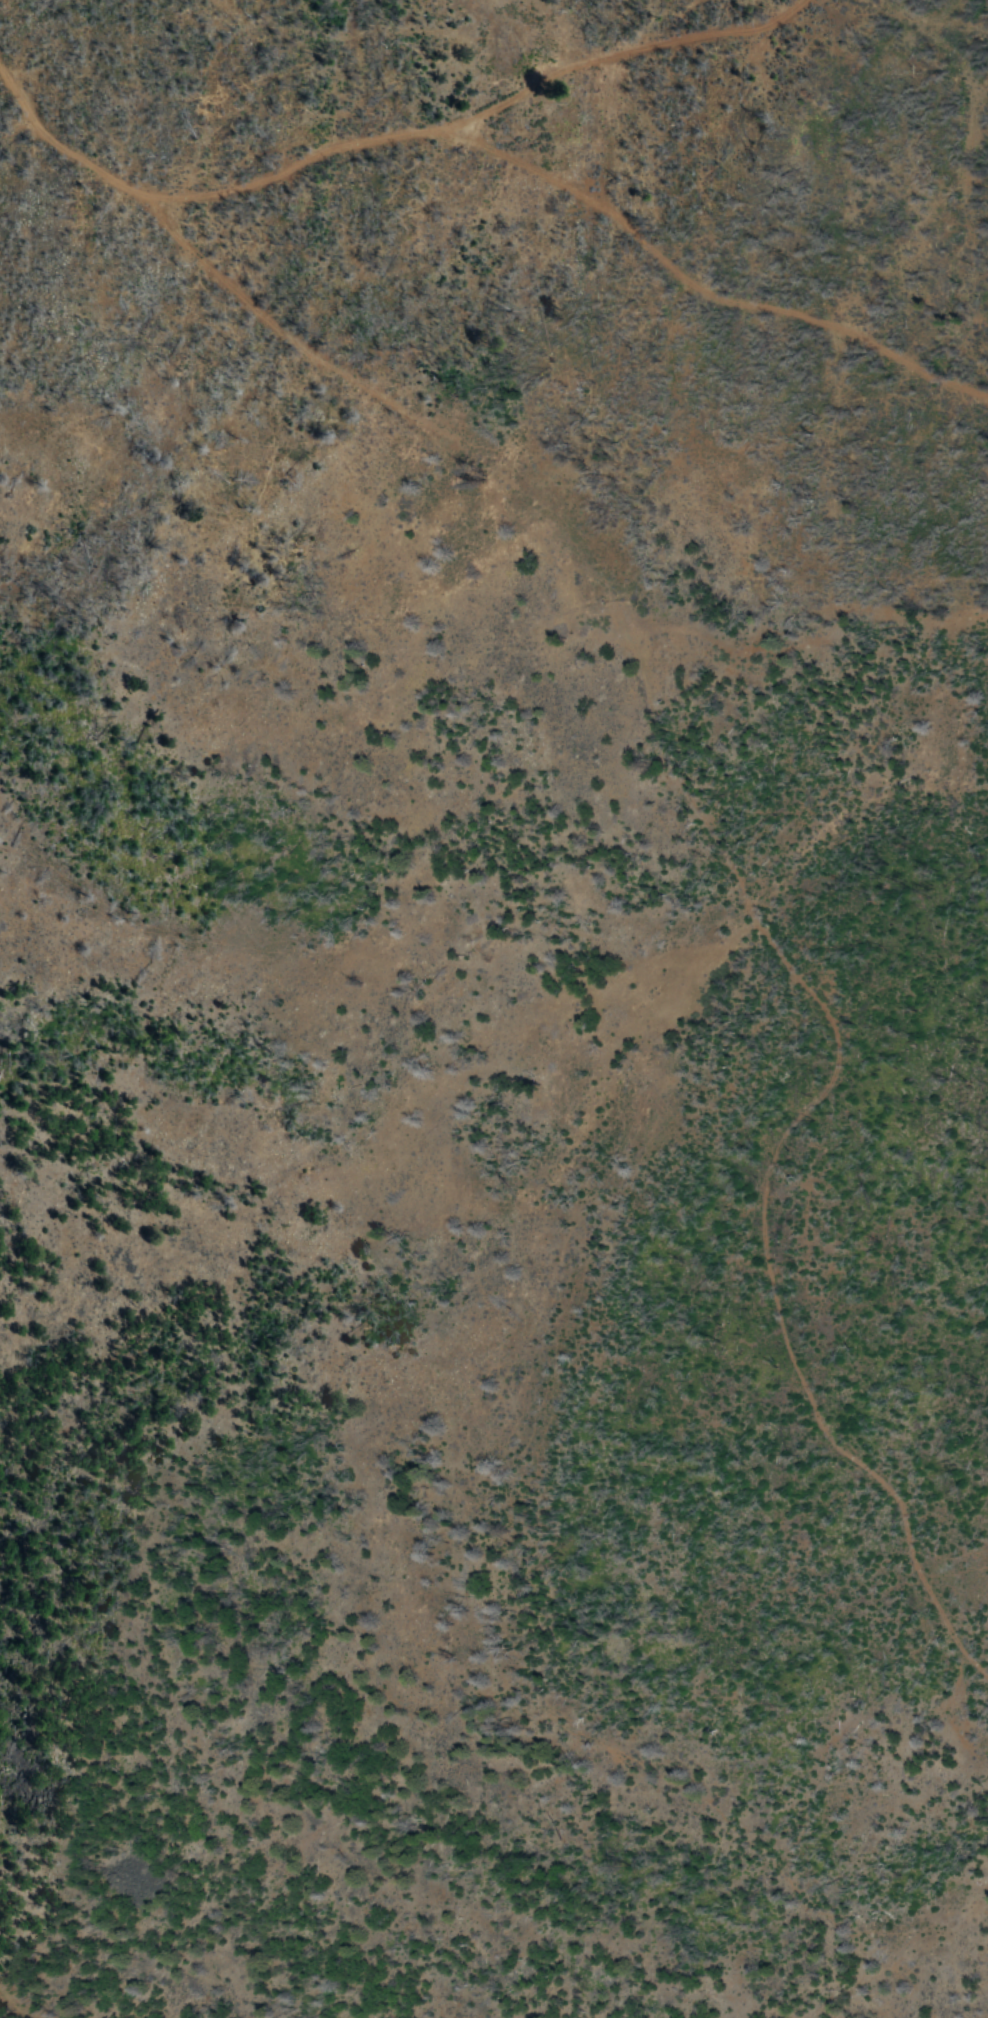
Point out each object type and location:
road: (623, 52)
road: (491, 147)

